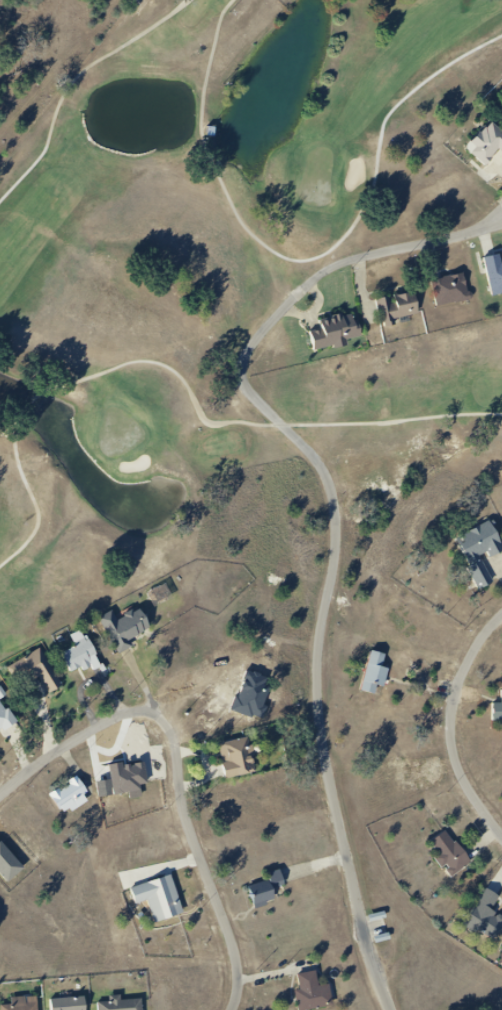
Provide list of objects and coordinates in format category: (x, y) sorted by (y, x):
road: (73, 83)
building: (491, 146)
park: (317, 179)
road: (492, 220)
road: (306, 260)
building: (495, 274)
building: (455, 291)
building: (408, 308)
building: (339, 334)
road: (180, 377)
park: (119, 432)
park: (255, 514)
road: (335, 521)
building: (480, 550)
building: (166, 600)
building: (129, 634)
building: (87, 658)
building: (374, 673)
building: (39, 675)
building: (501, 705)
building: (8, 718)
road: (456, 719)
building: (242, 763)
road: (183, 770)
building: (74, 796)
building: (449, 854)
building: (270, 892)
building: (164, 902)
building: (485, 916)
building: (318, 995)
building: (73, 1005)
building: (127, 1007)
building: (28, 1008)

